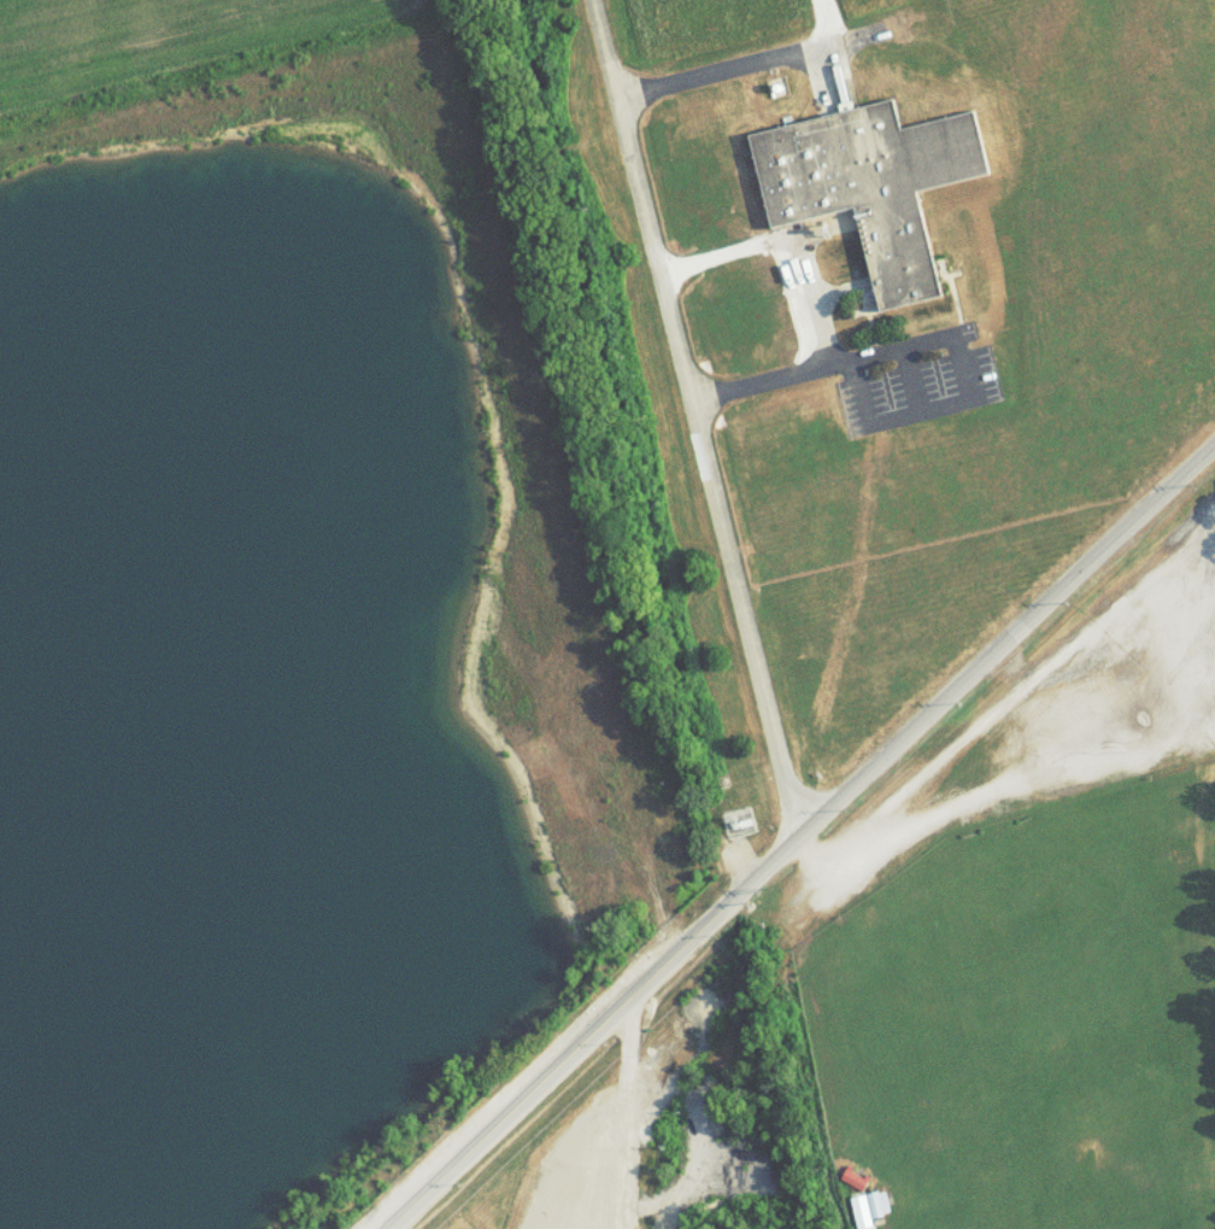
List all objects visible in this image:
road: (750, 72)
building: (870, 191)
road: (841, 294)
road: (816, 305)
parking lot: (916, 381)
road: (694, 421)
parking lot: (1057, 710)
road: (806, 838)
park: (1026, 1018)
quarry: (618, 1155)

